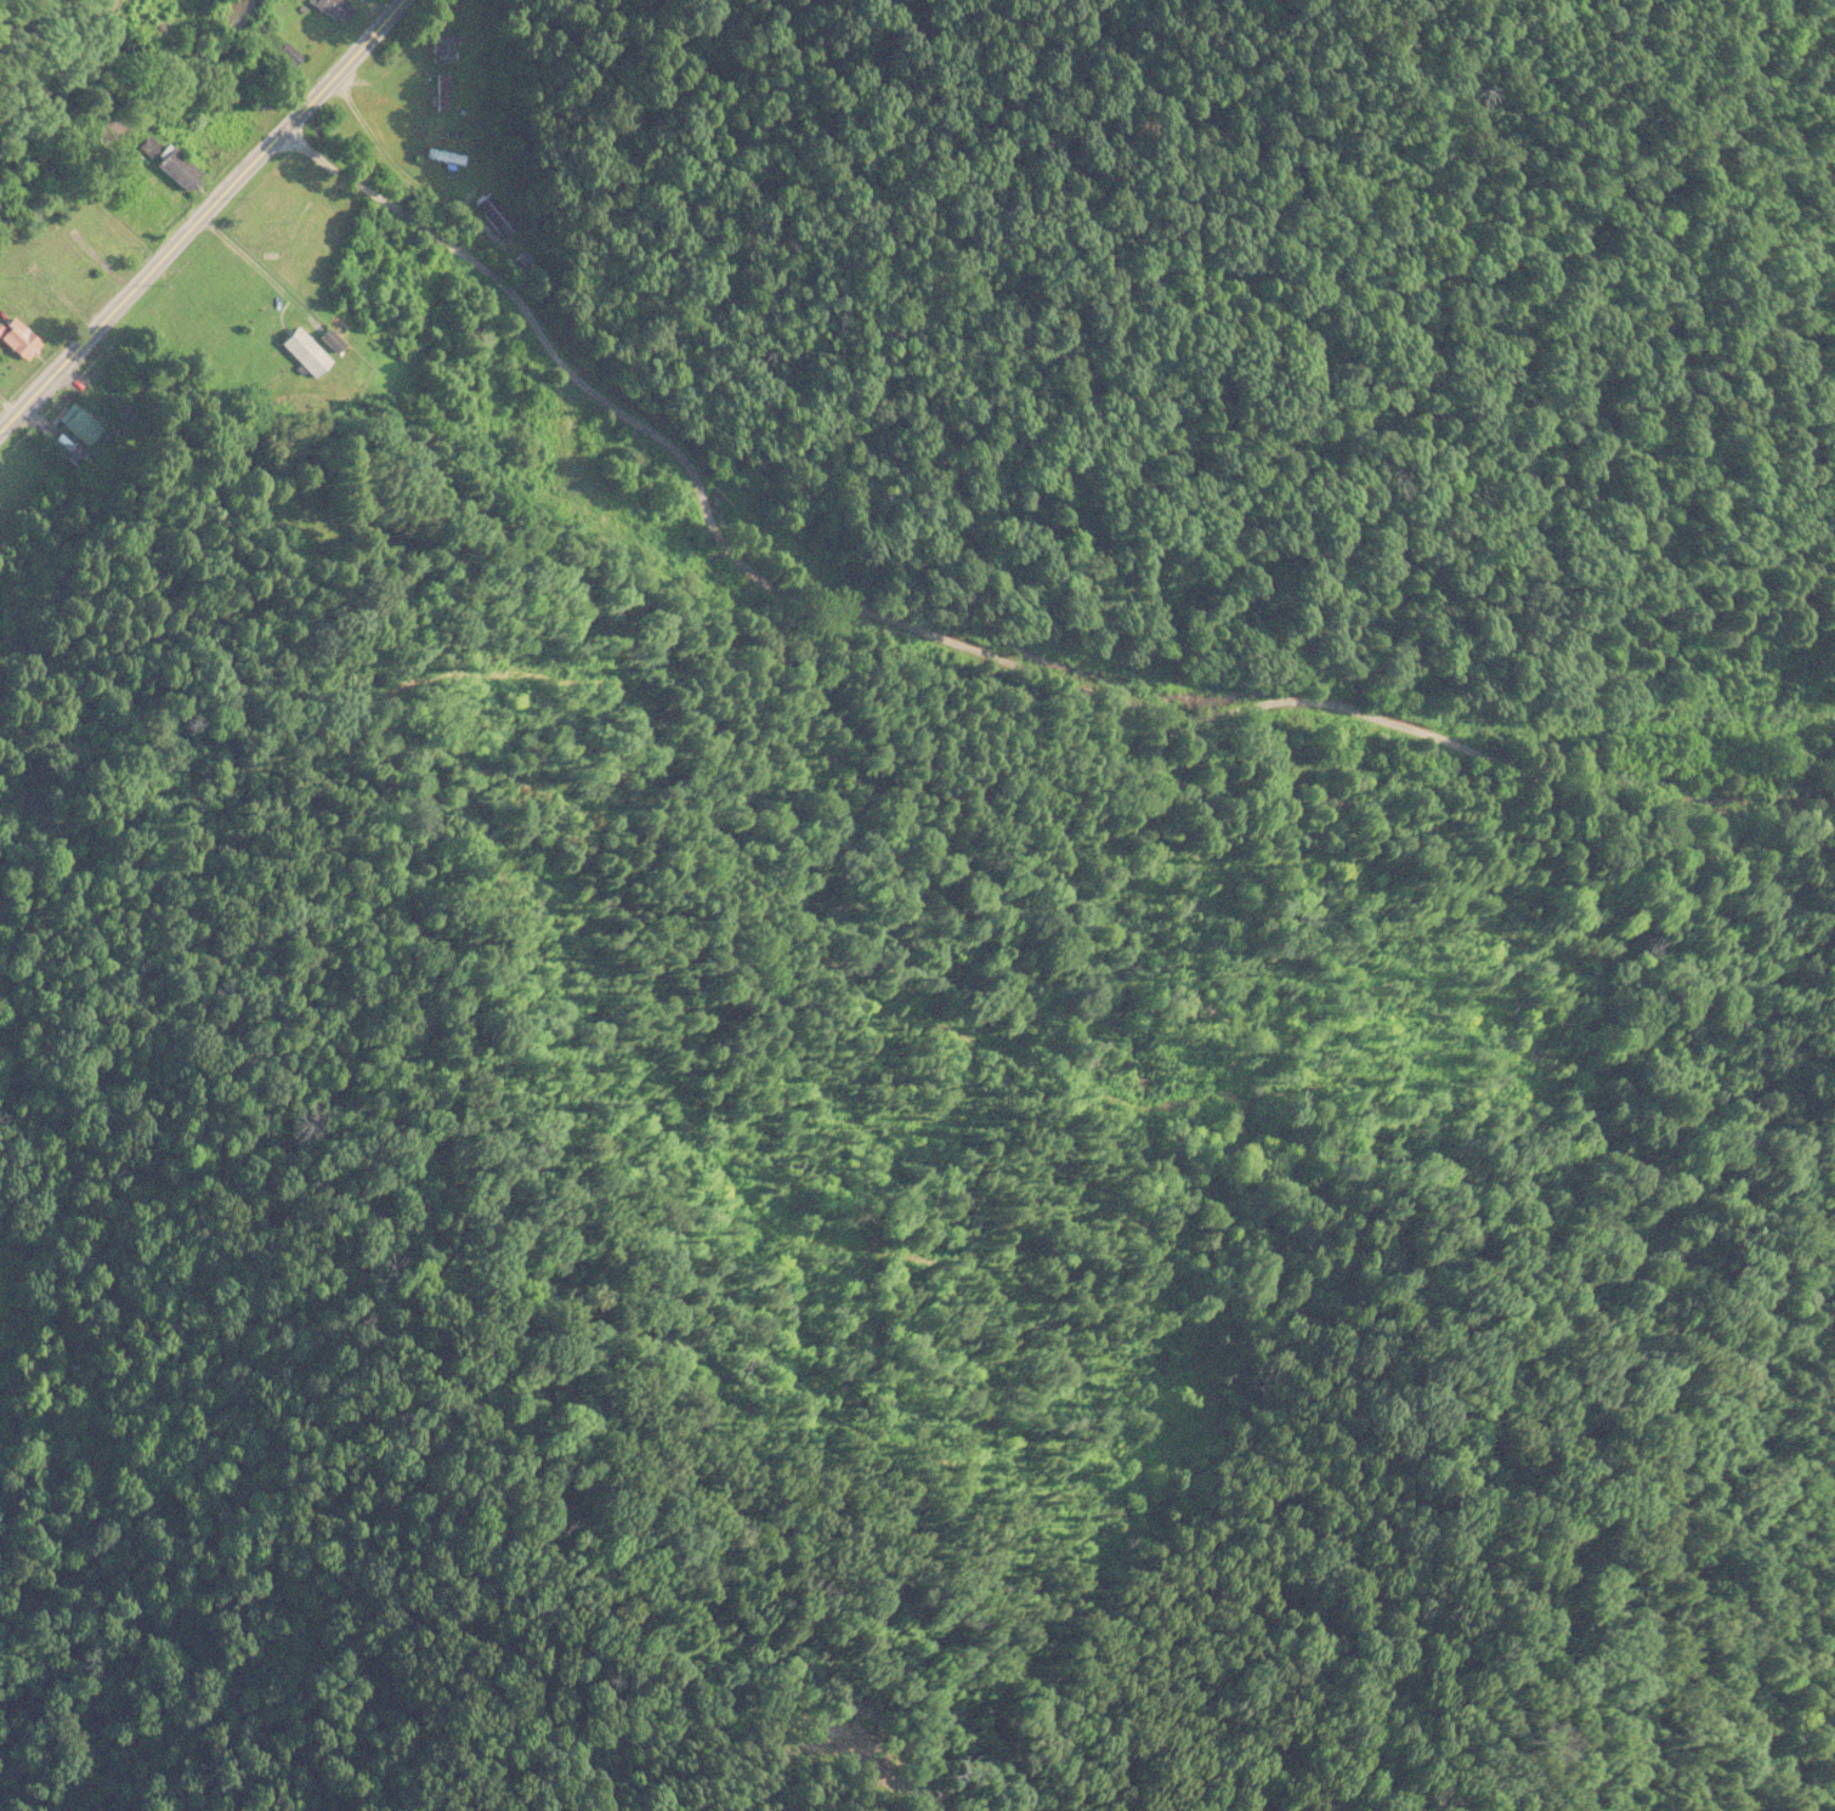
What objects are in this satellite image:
building: (332, 9)
building: (441, 50)
building: (441, 94)
building: (446, 157)
building: (172, 168)
road: (199, 215)
building: (497, 215)
building: (100, 240)
building: (17, 340)
building: (306, 353)
building: (80, 426)

